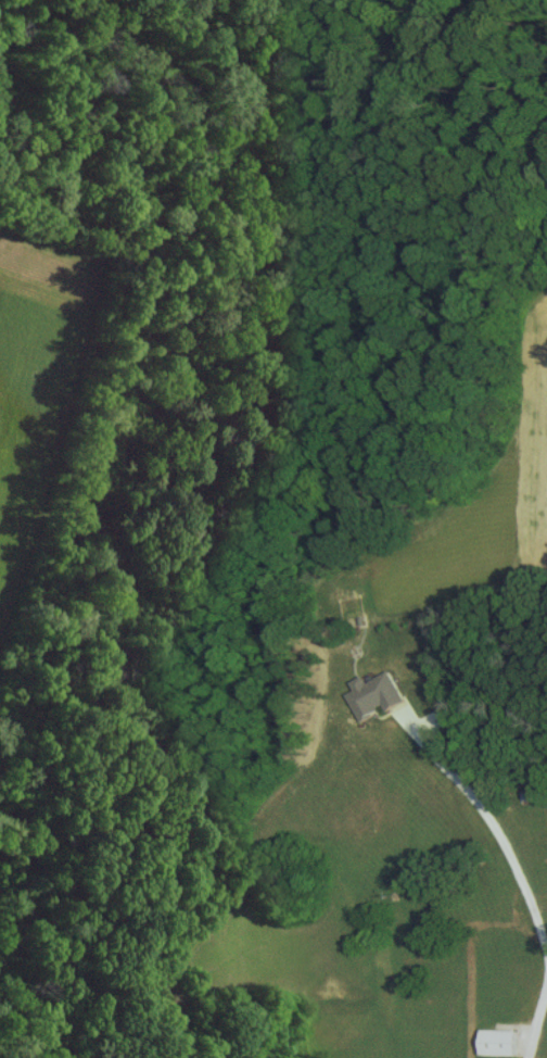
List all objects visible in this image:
building: (372, 694)
road: (495, 821)
road: (545, 972)
road: (542, 978)
building: (494, 1041)

